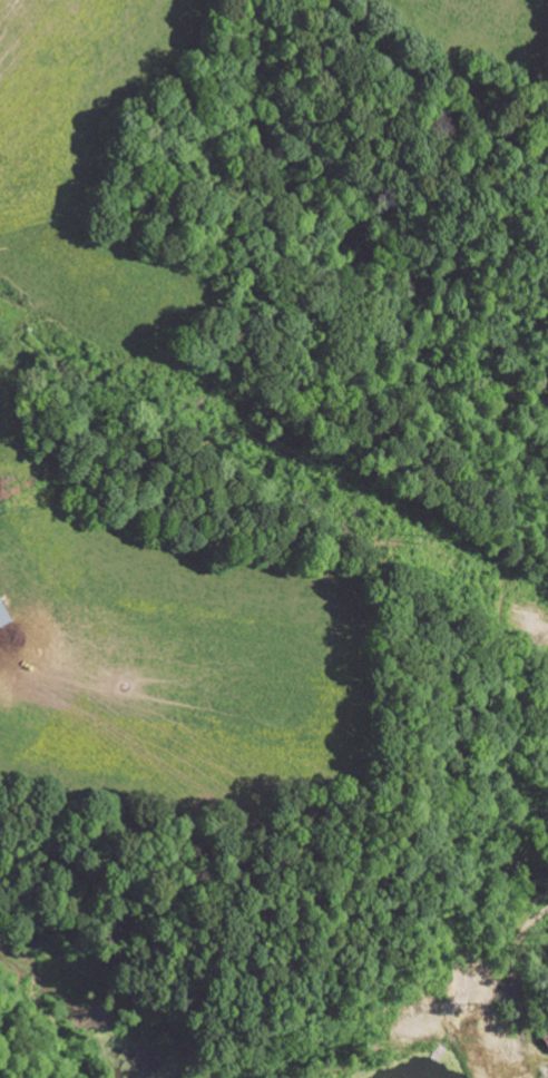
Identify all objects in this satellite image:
building: (8, 610)

